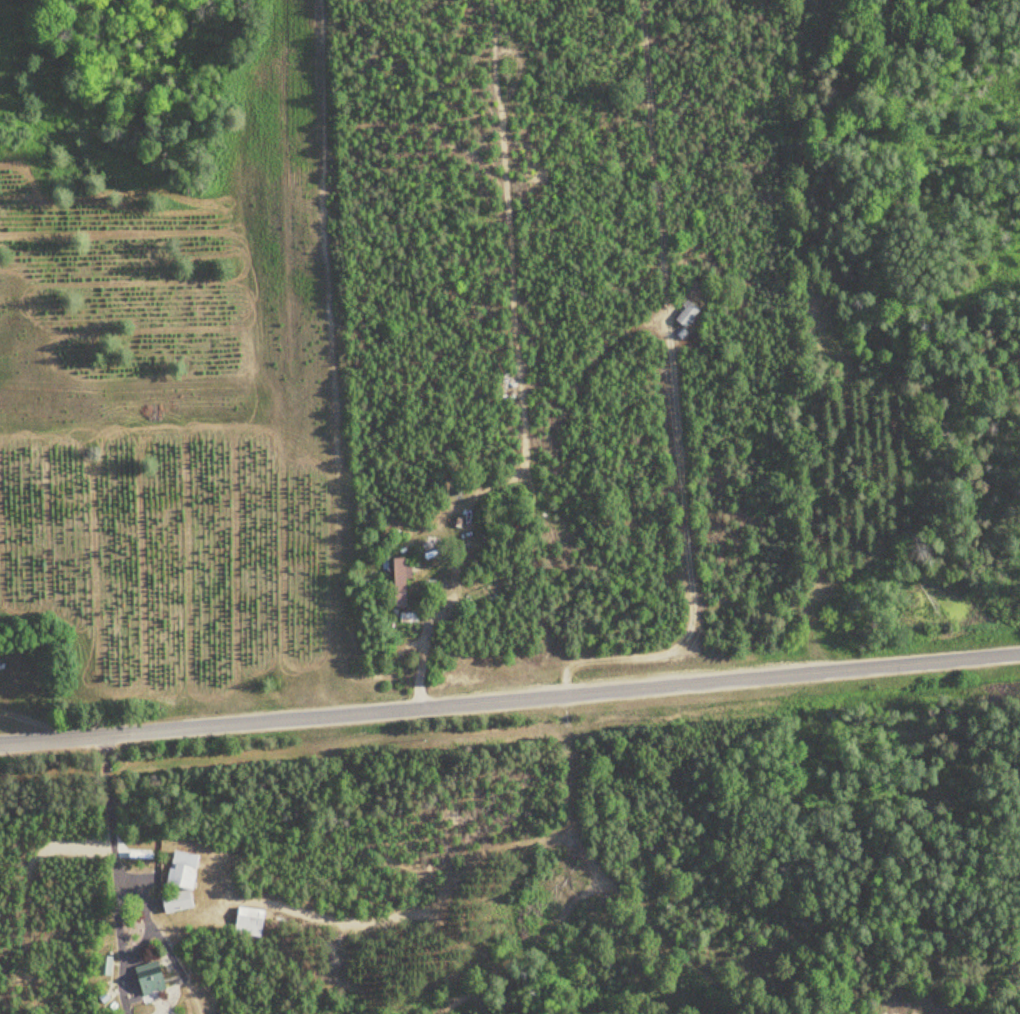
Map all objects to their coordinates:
building: (681, 313)
building: (395, 582)
road: (510, 696)
building: (176, 883)
building: (245, 922)
building: (145, 980)

